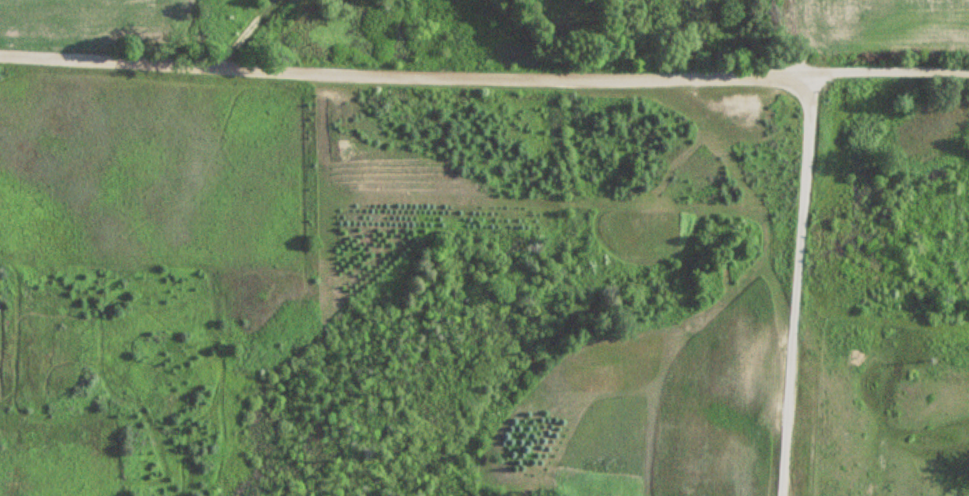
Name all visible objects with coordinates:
road: (484, 71)
road: (800, 283)

